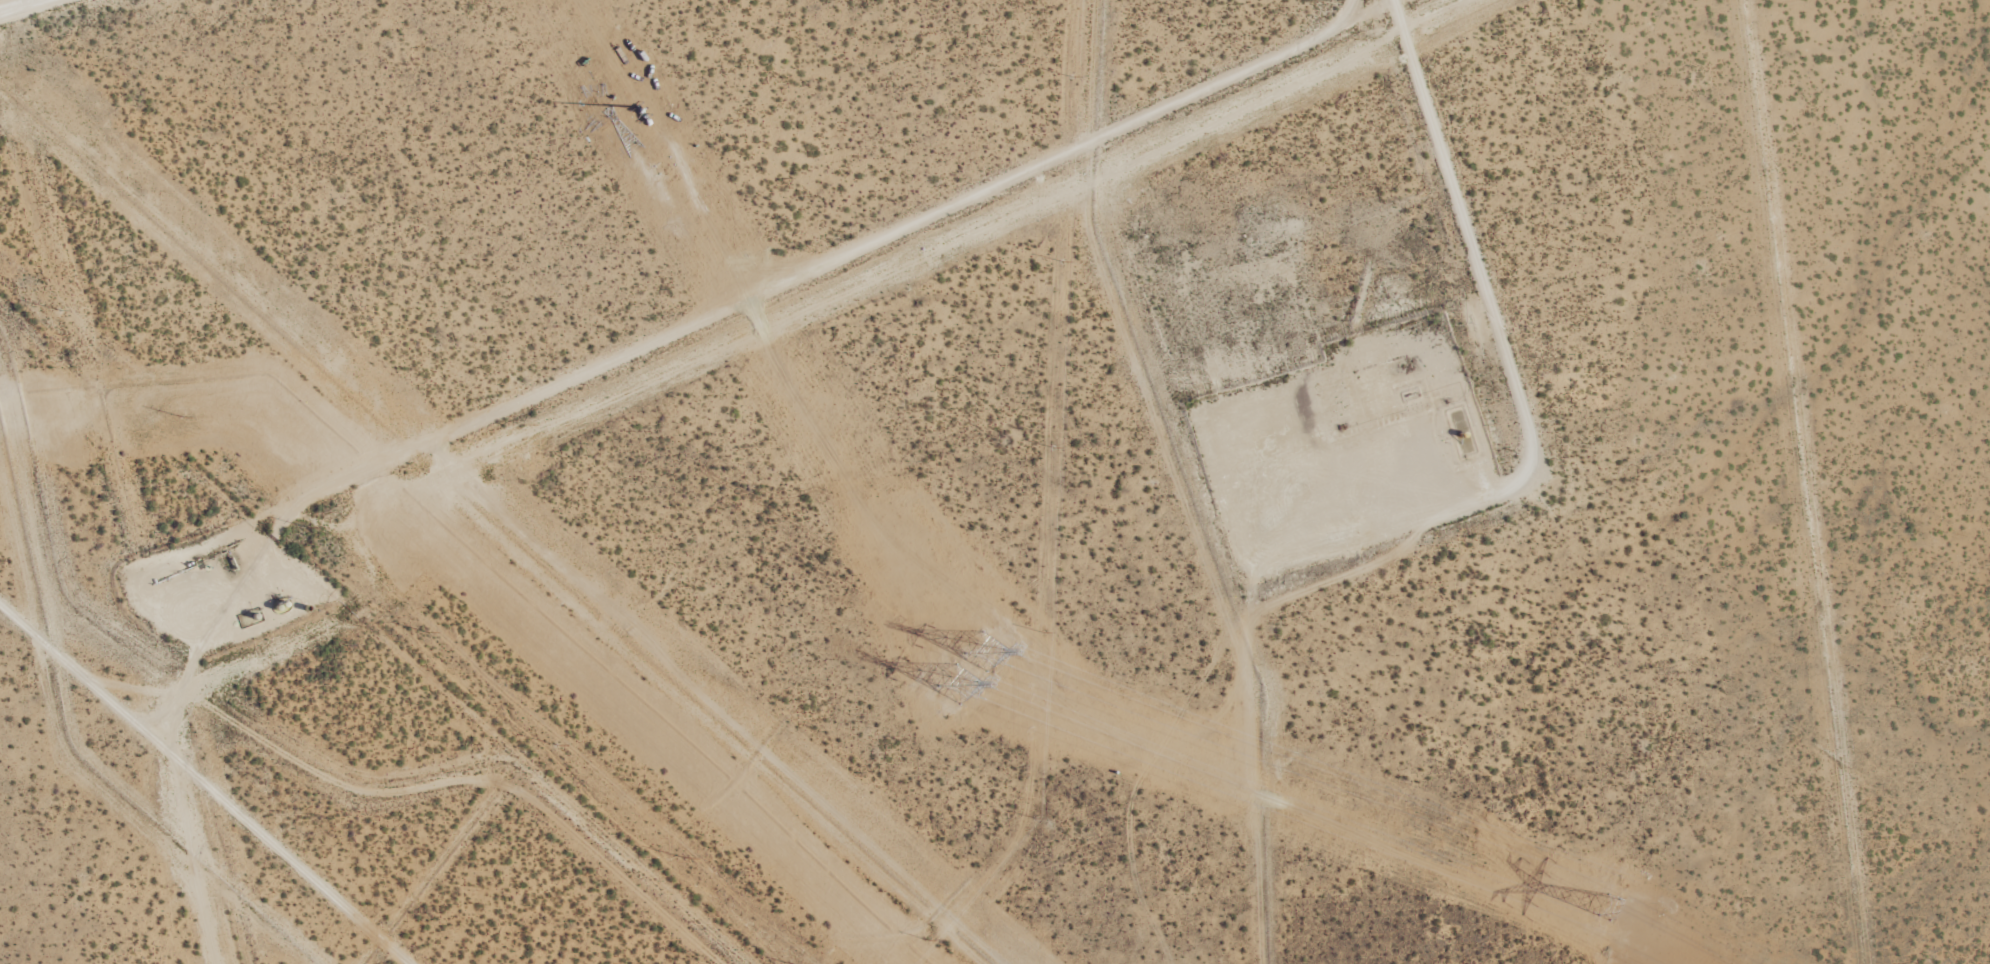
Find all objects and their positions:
road: (17, 5)
road: (127, 43)
power tower: (663, 169)
road: (1476, 268)
power tower: (59, 310)
power tower: (182, 417)
power tower: (309, 528)
power tower: (428, 633)
power tower: (966, 668)
power tower: (556, 745)
power tower: (685, 859)
power tower: (1607, 908)

